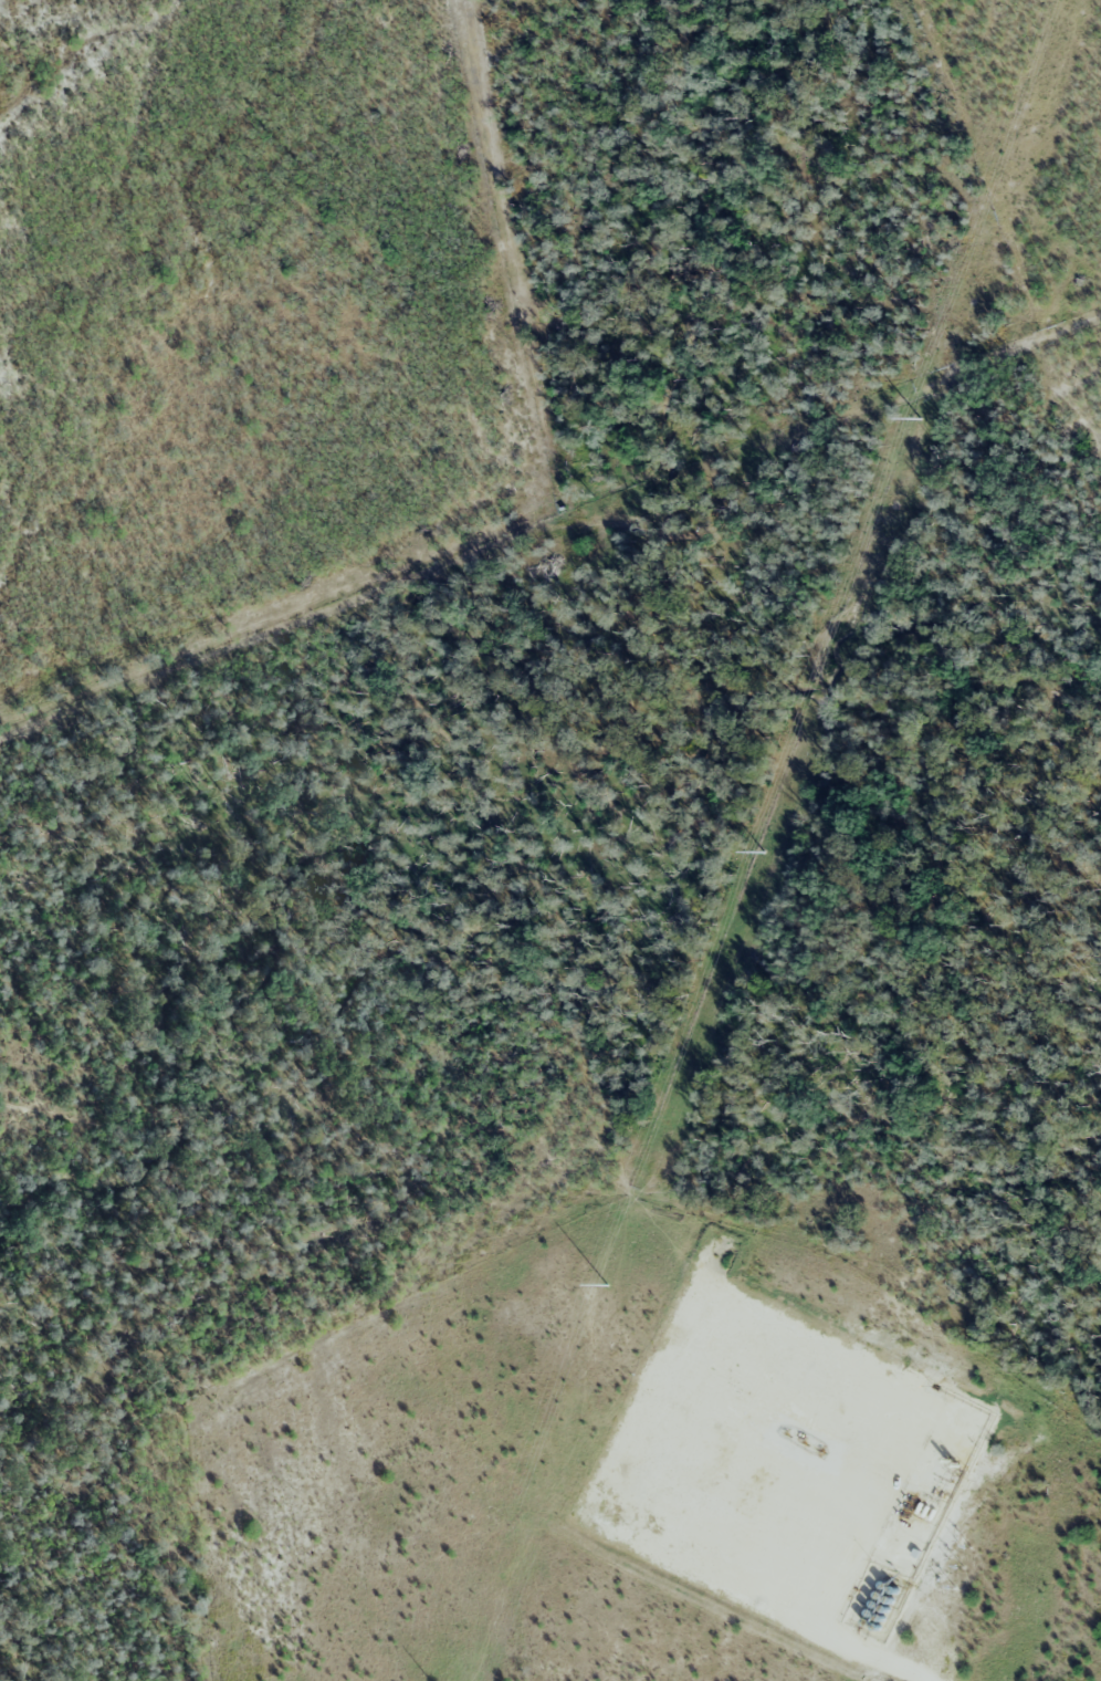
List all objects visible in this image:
road: (748, 1588)

